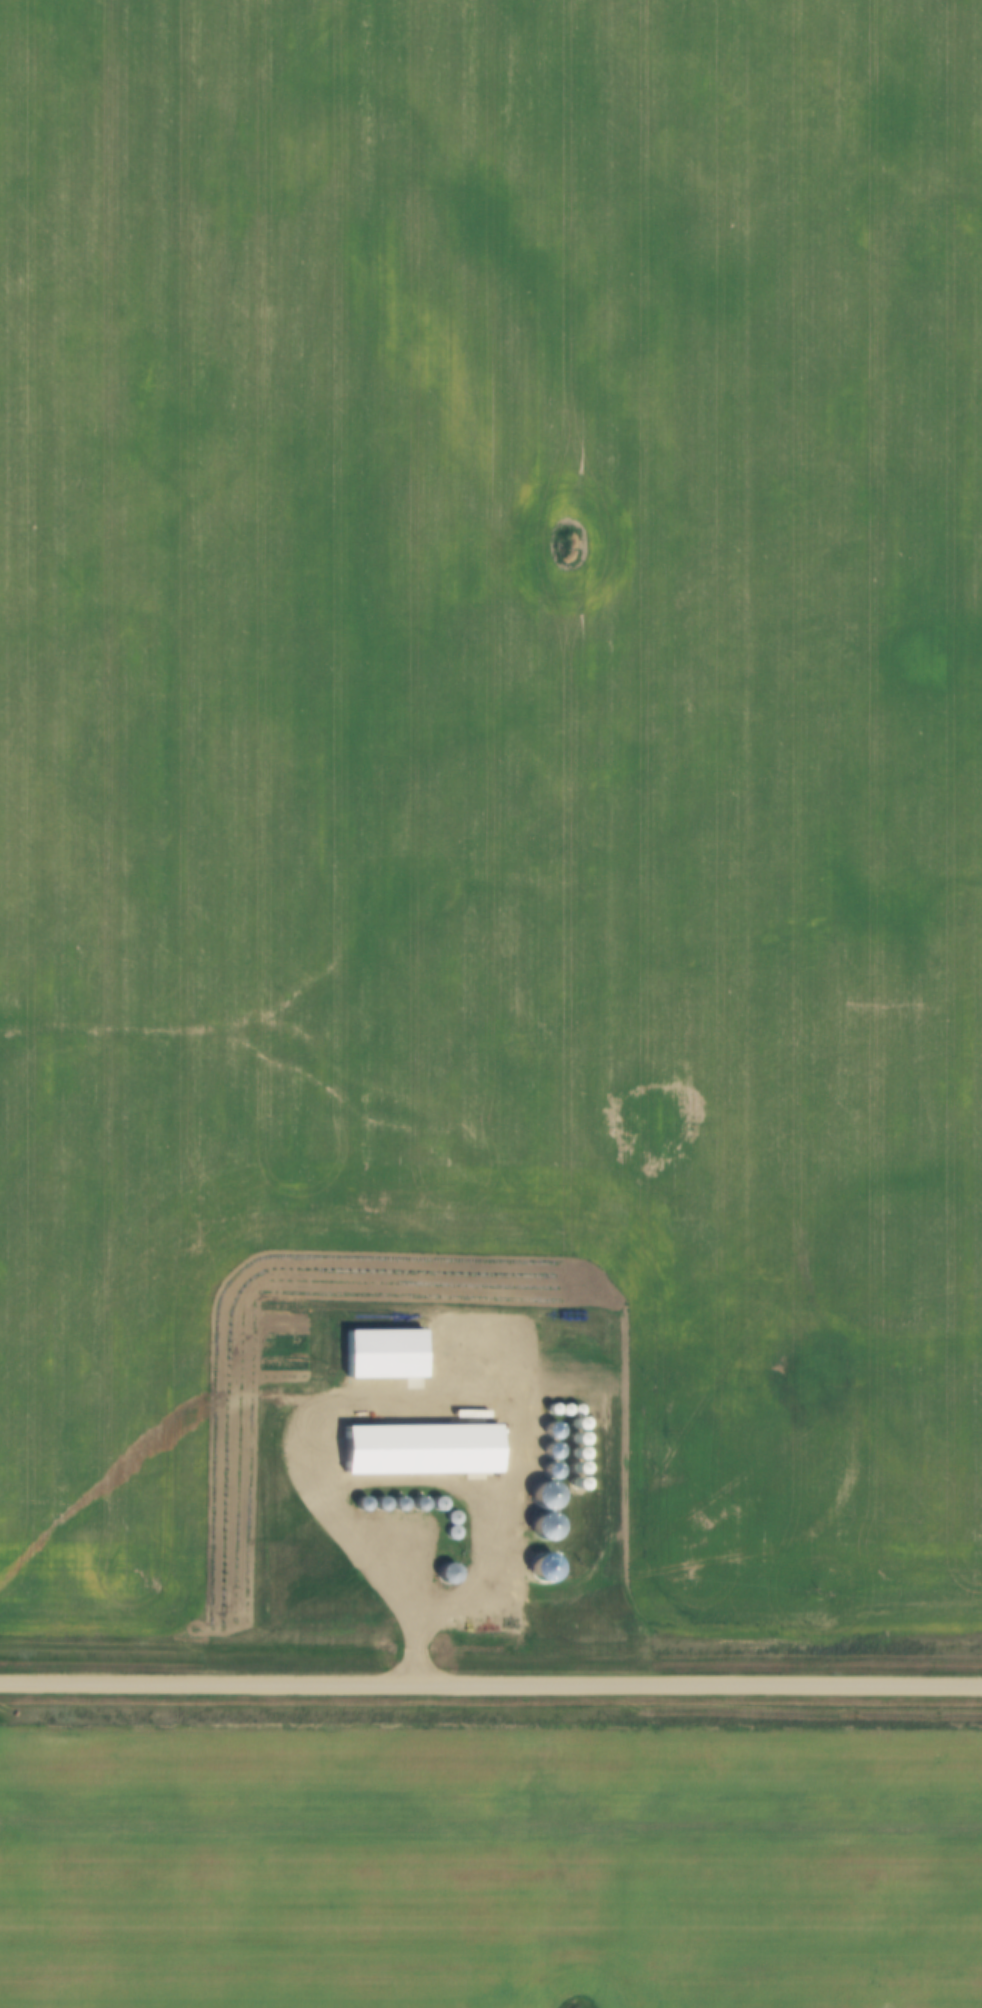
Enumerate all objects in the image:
building: (440, 1573)
road: (412, 1602)
road: (490, 1683)

